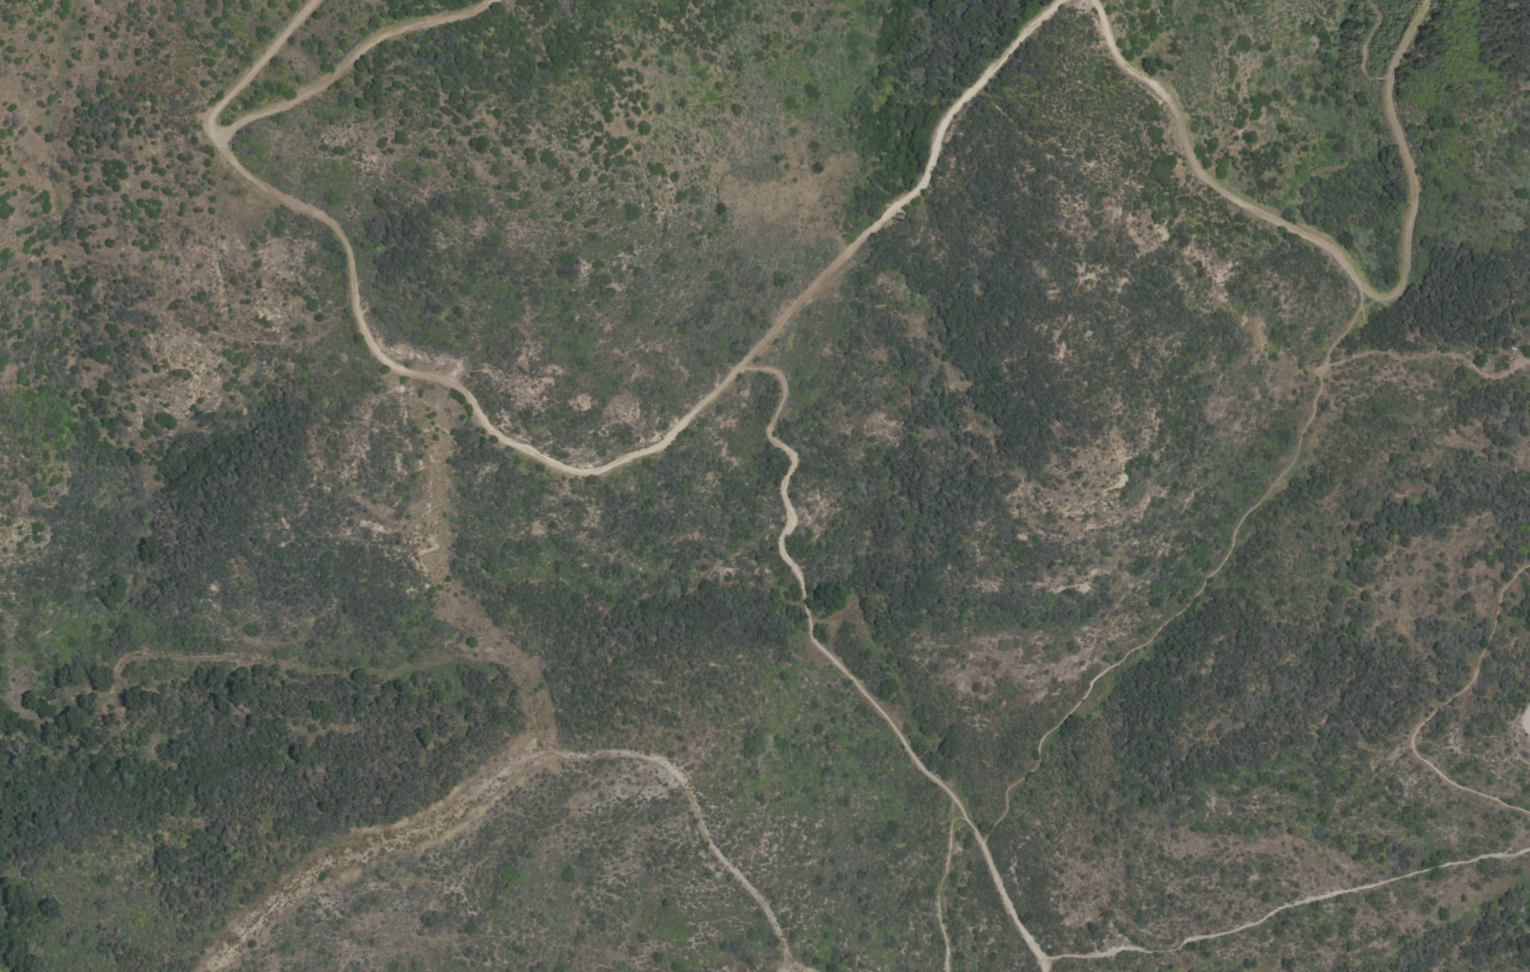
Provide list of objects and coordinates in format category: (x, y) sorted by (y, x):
road: (1365, 45)
road: (348, 61)
road: (254, 67)
road: (1340, 261)
road: (1430, 361)
road: (653, 448)
road: (421, 524)
road: (1199, 587)
road: (288, 666)
road: (839, 667)
road: (1425, 707)
road: (1526, 721)
road: (525, 760)
road: (941, 887)
road: (1284, 907)
road: (796, 971)

